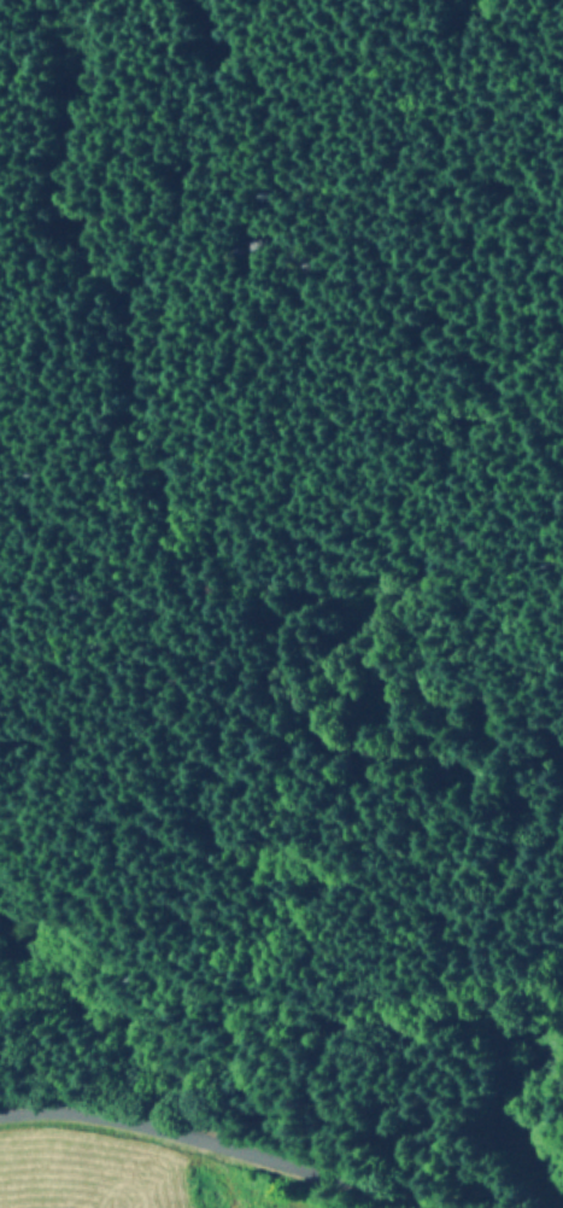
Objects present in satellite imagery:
road: (219, 1149)

